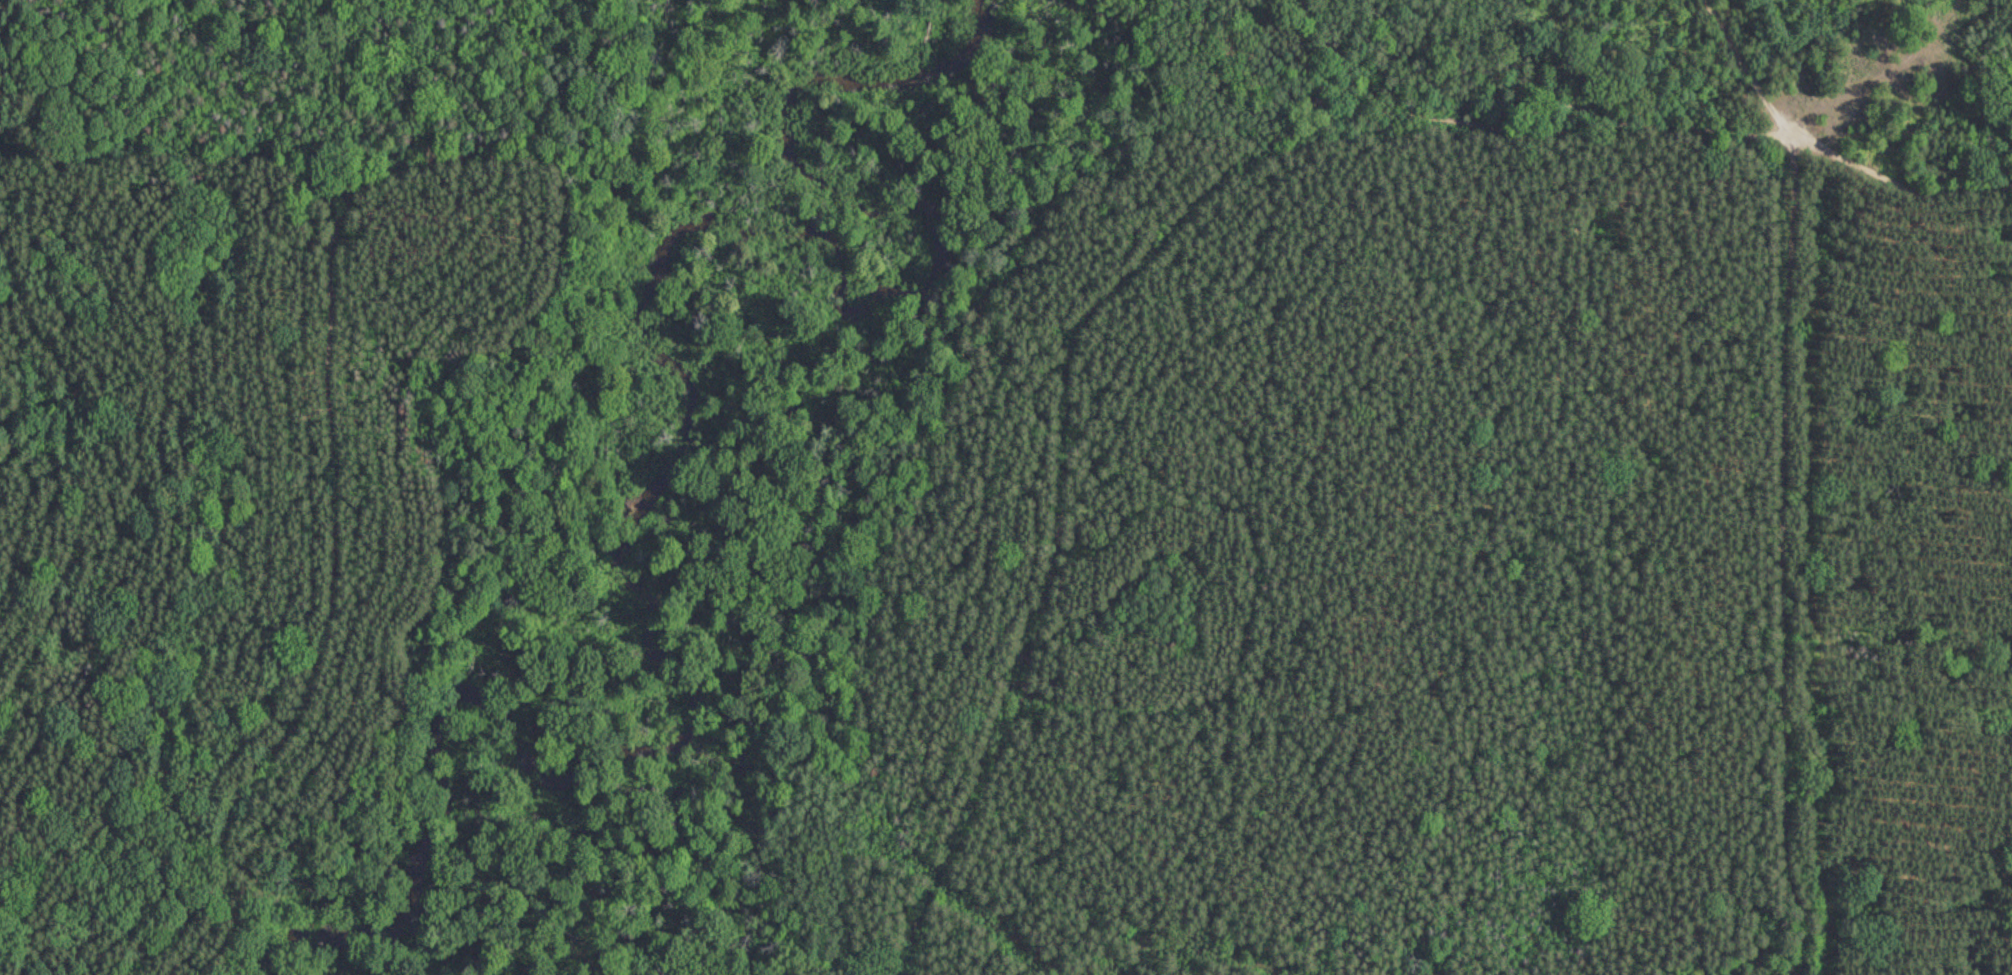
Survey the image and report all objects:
road: (1171, 175)
road: (57, 873)

